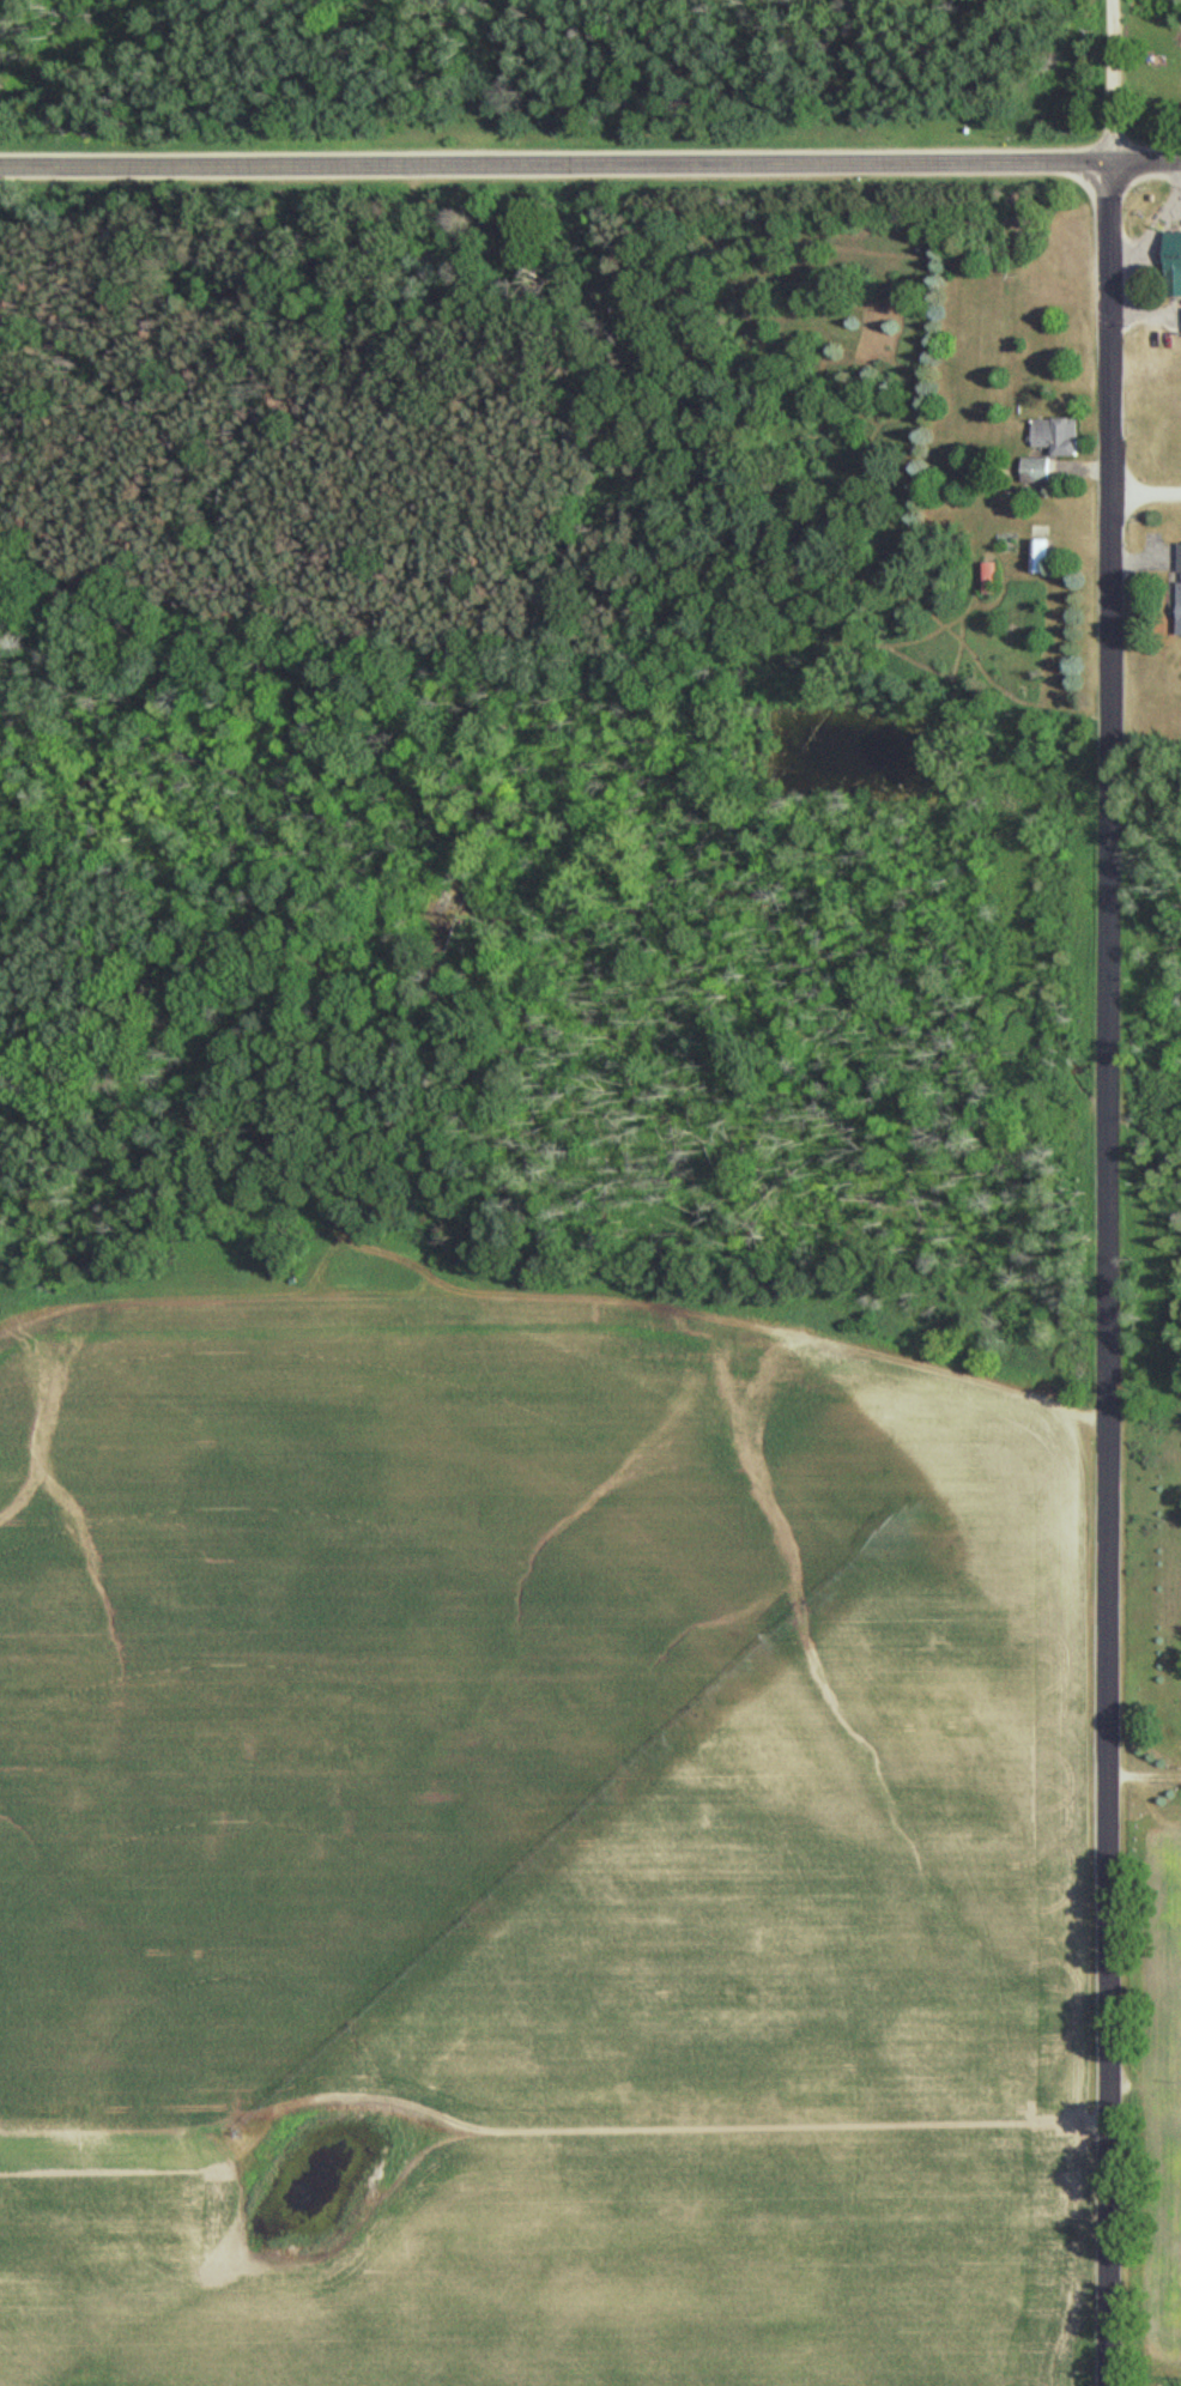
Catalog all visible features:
road: (589, 165)
building: (1173, 264)
building: (1055, 437)
building: (1035, 471)
road: (1145, 493)
building: (1037, 556)
building: (1176, 585)
road: (1109, 1192)

